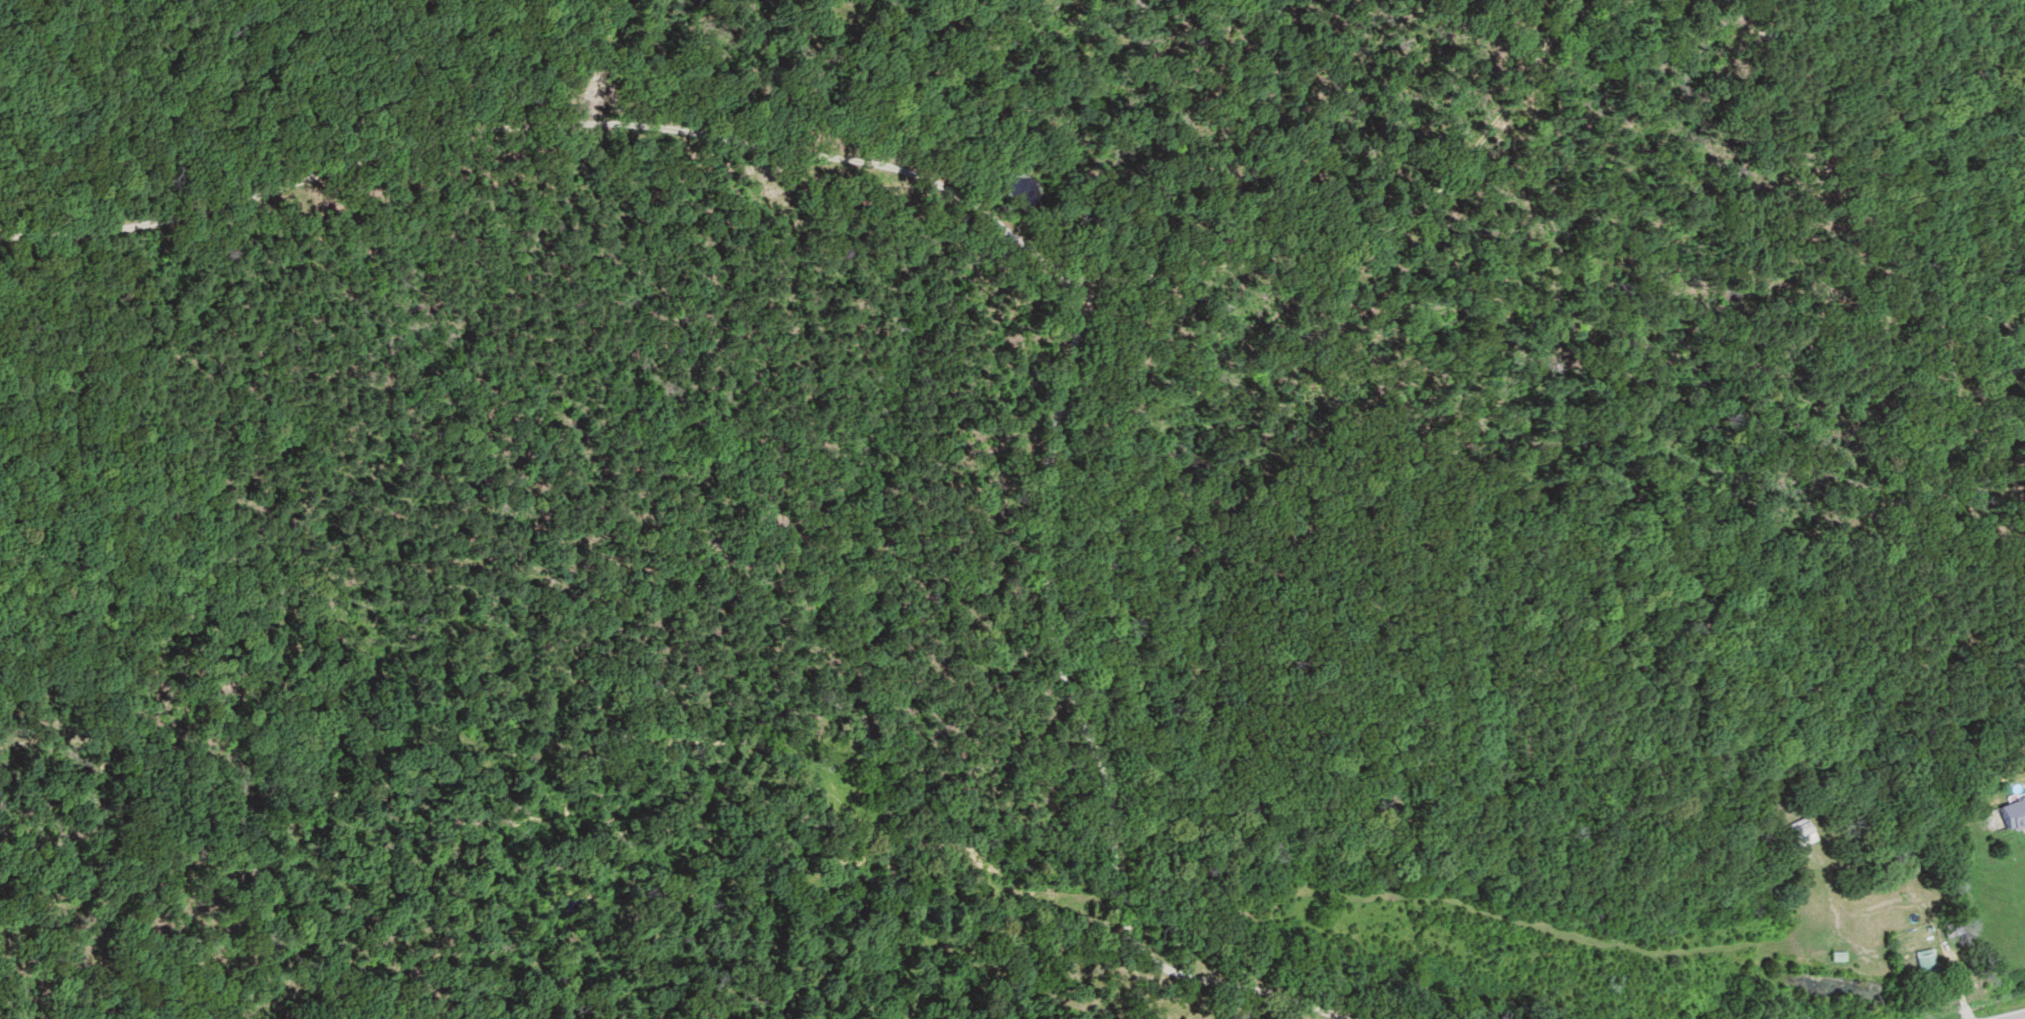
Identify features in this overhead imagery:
building: (2015, 813)
building: (1800, 833)
building: (1839, 957)
building: (1926, 962)

